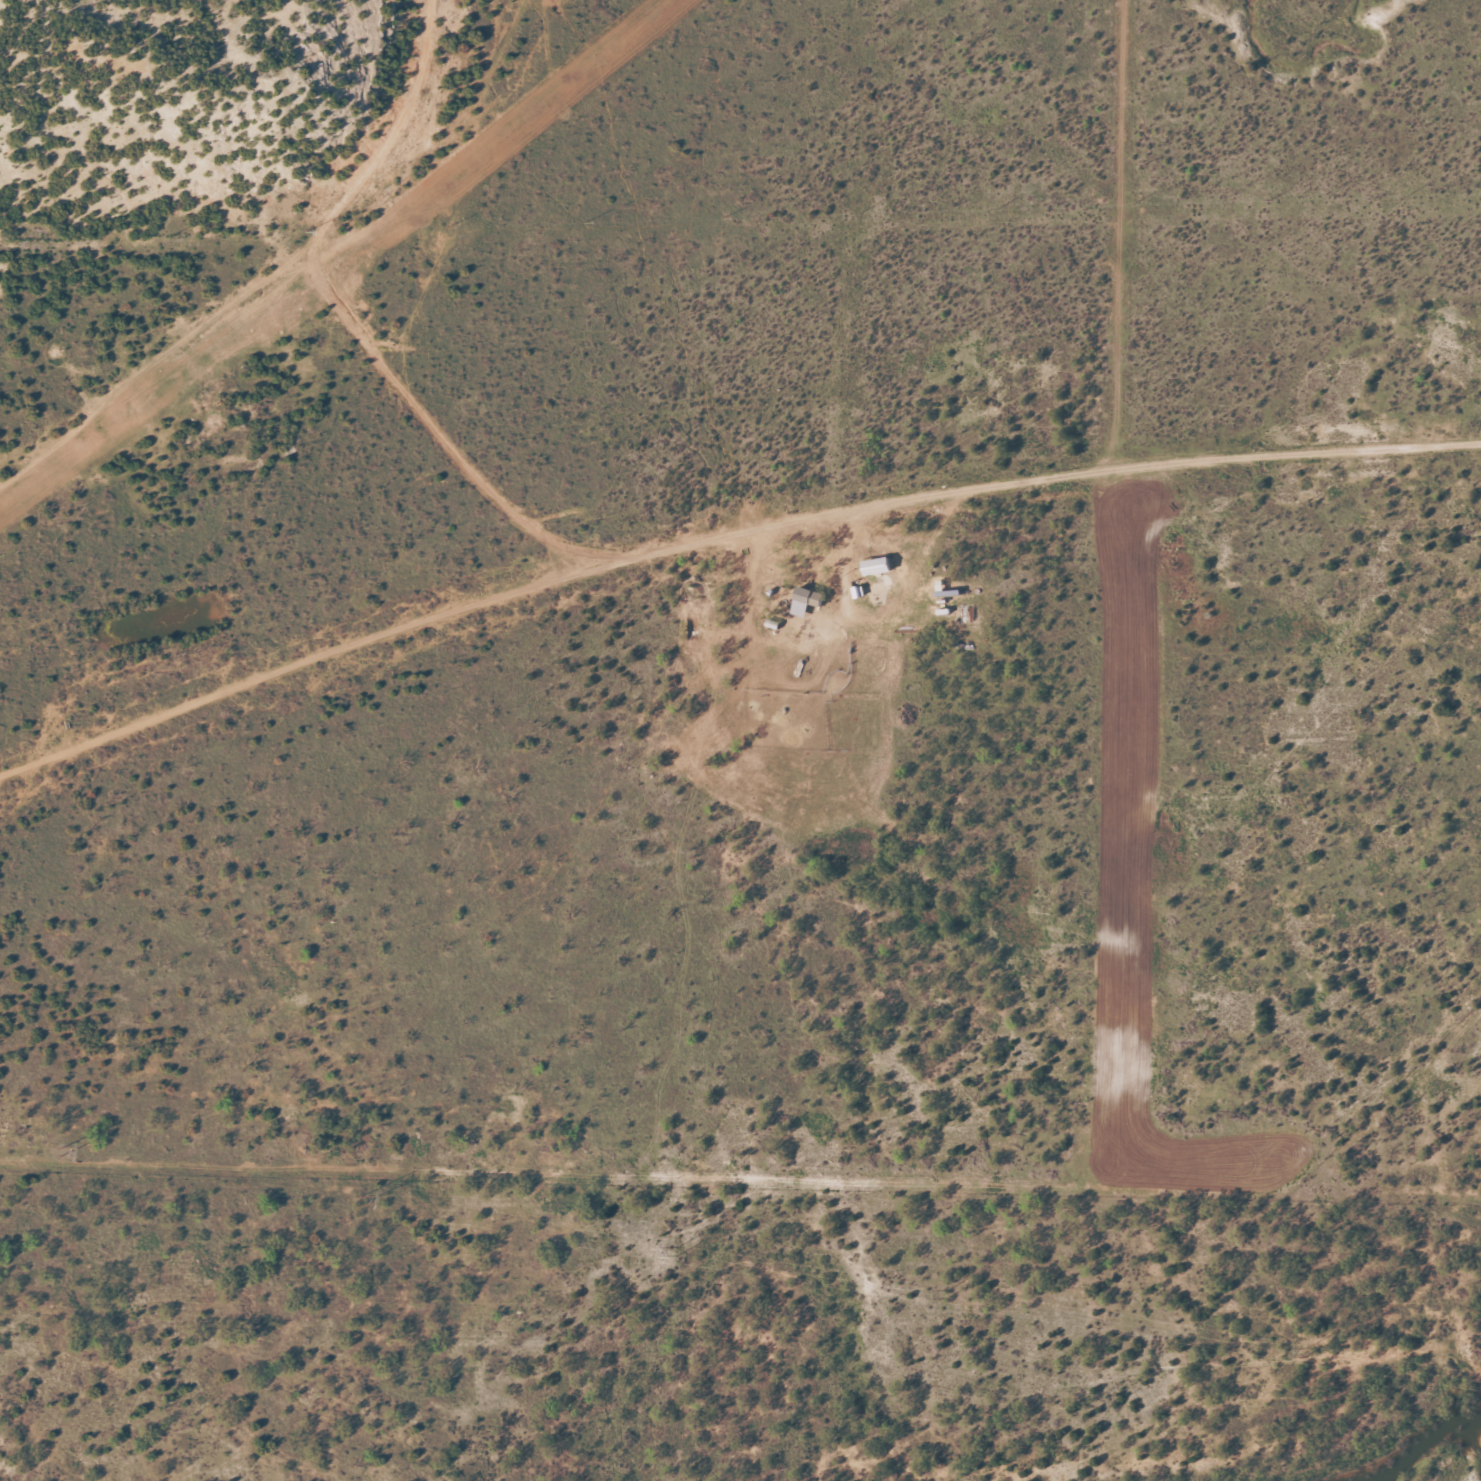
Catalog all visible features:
road: (297, 263)
building: (879, 565)
building: (808, 599)
power tower: (59, 1151)
power tower: (359, 1200)
power tower: (676, 1251)
power tower: (944, 1293)
power tower: (1305, 1351)

